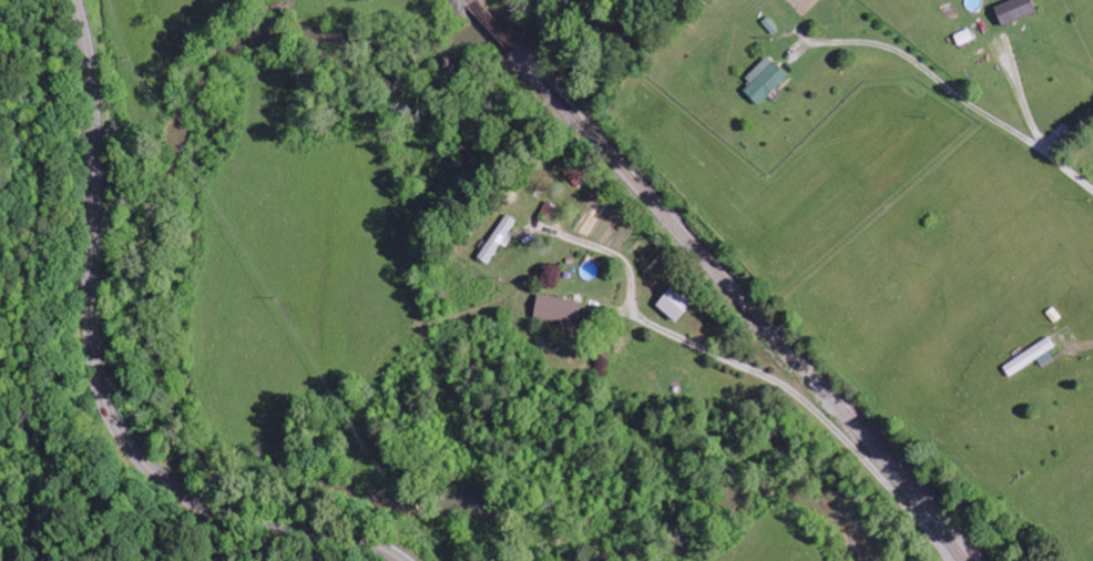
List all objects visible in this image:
railway: (471, 1)
building: (1013, 11)
railway: (492, 27)
building: (963, 38)
building: (764, 80)
building: (576, 176)
building: (549, 211)
building: (498, 241)
railway: (745, 300)
building: (674, 303)
building: (556, 310)
building: (1031, 357)
road: (102, 375)

